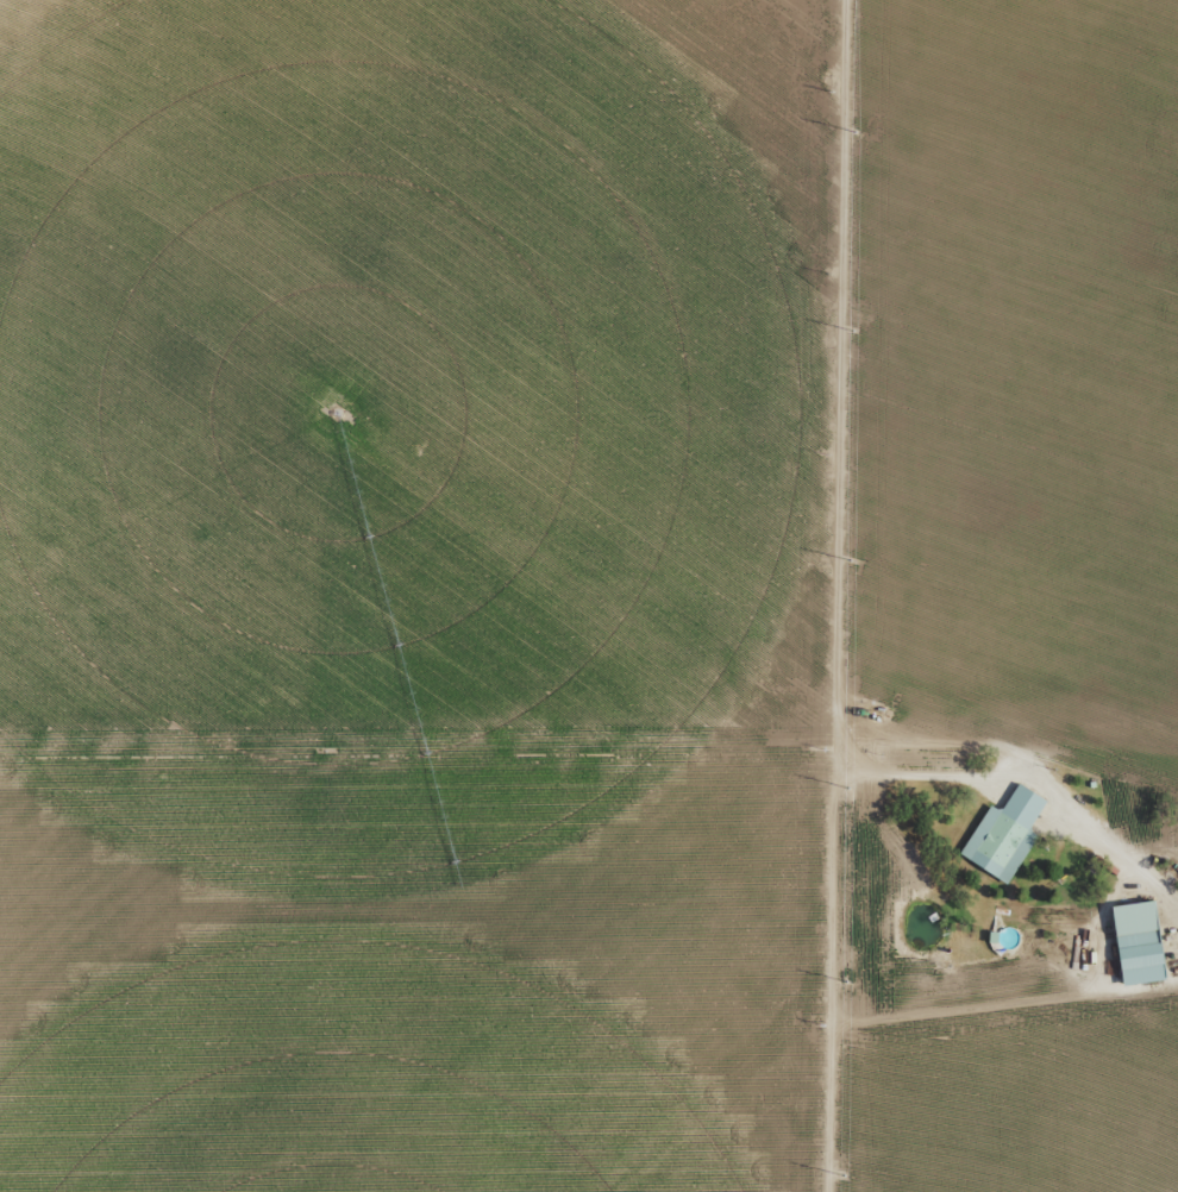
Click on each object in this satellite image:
road: (852, 596)
building: (1004, 834)
building: (1139, 942)

